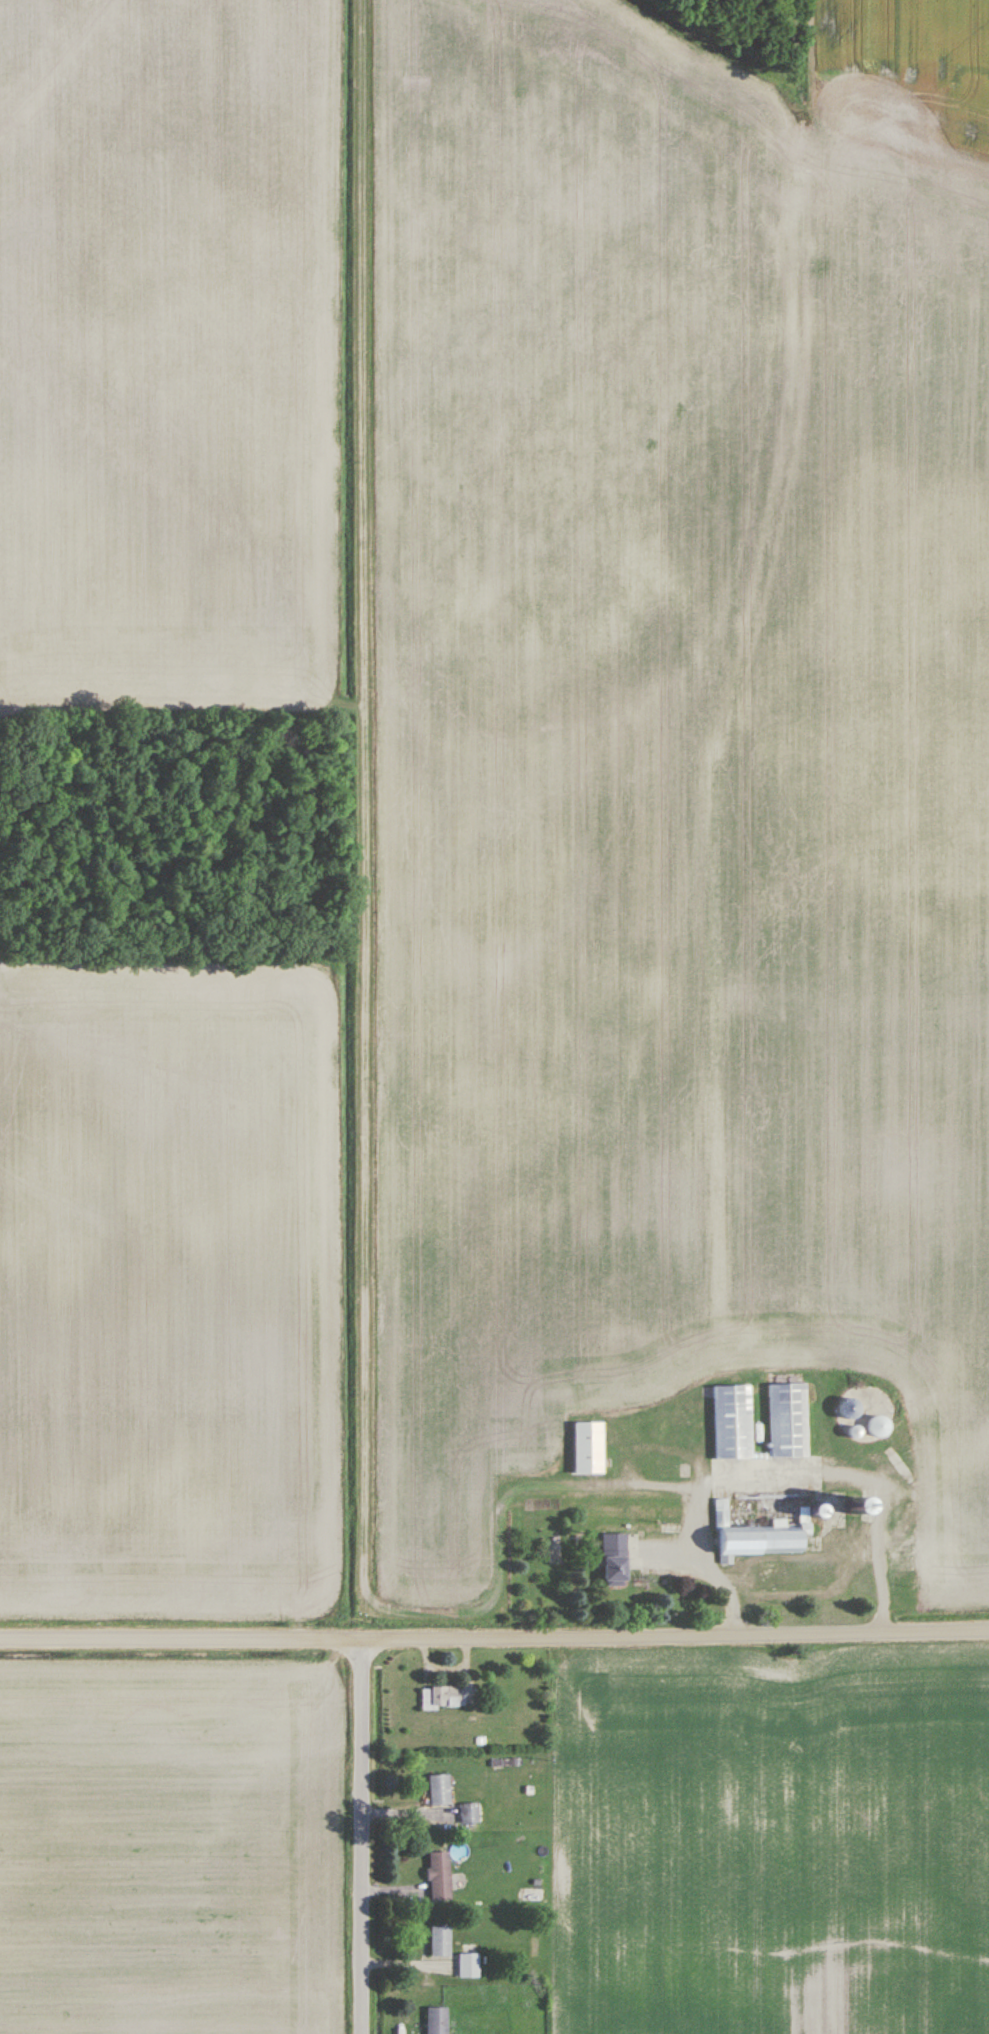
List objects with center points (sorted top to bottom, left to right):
road: (364, 819)
building: (787, 1420)
building: (732, 1422)
building: (588, 1448)
road: (783, 1466)
building: (667, 1471)
building: (771, 1495)
building: (858, 1503)
building: (670, 1516)
building: (755, 1538)
building: (691, 1546)
building: (614, 1558)
building: (767, 1576)
road: (676, 1632)
road: (182, 1637)
building: (441, 1698)
building: (439, 1789)
building: (469, 1813)
road: (364, 1836)
building: (439, 1876)
building: (533, 1895)
building: (440, 1942)
building: (468, 1966)
building: (436, 2021)

